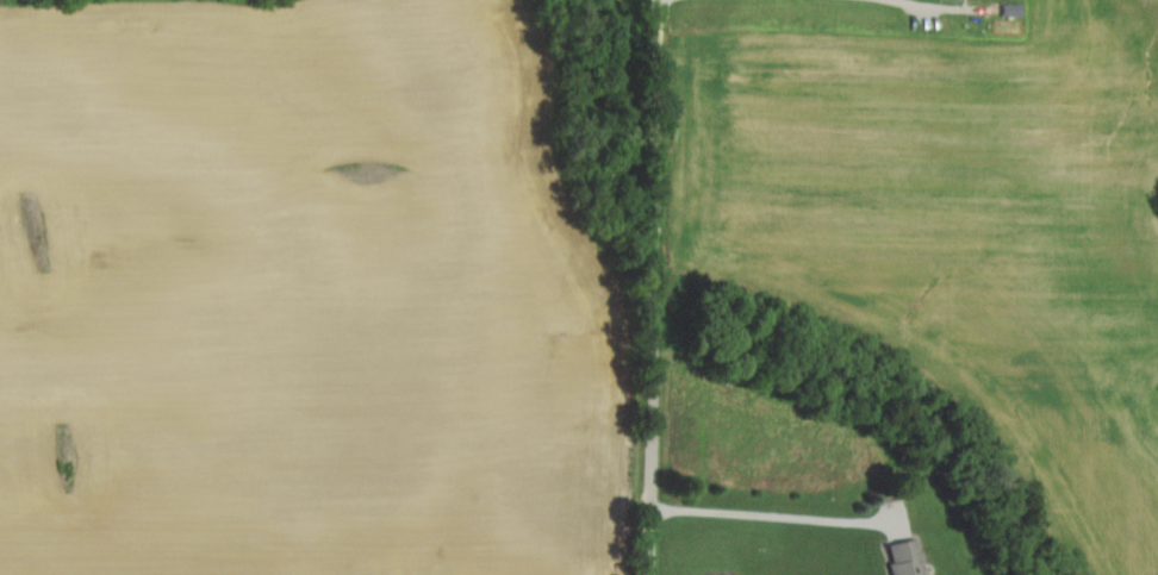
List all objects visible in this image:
road: (919, 4)
road: (655, 287)
road: (767, 514)
building: (909, 558)

